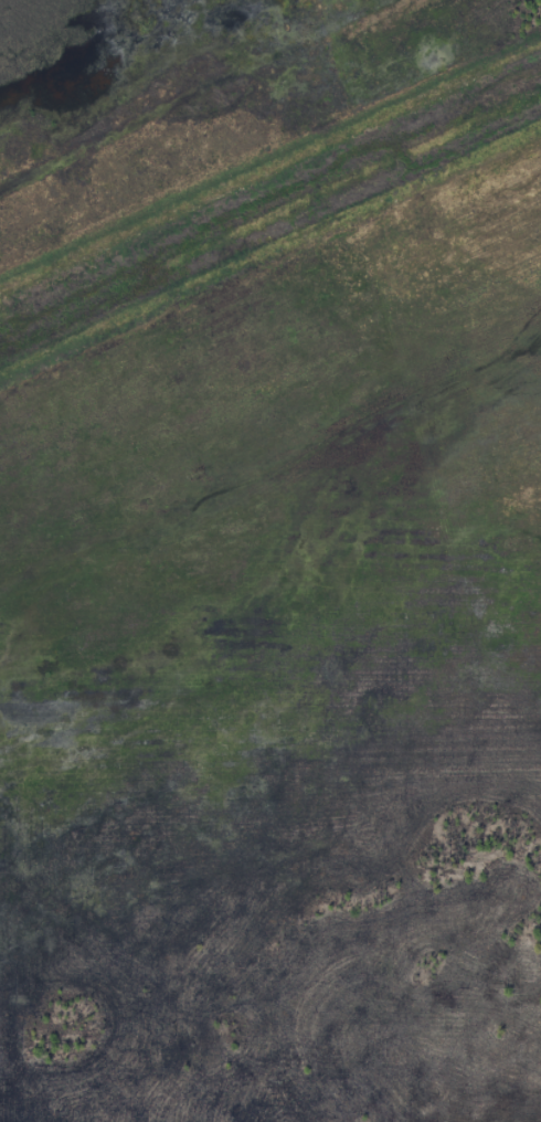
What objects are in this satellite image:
river: (270, 222)

